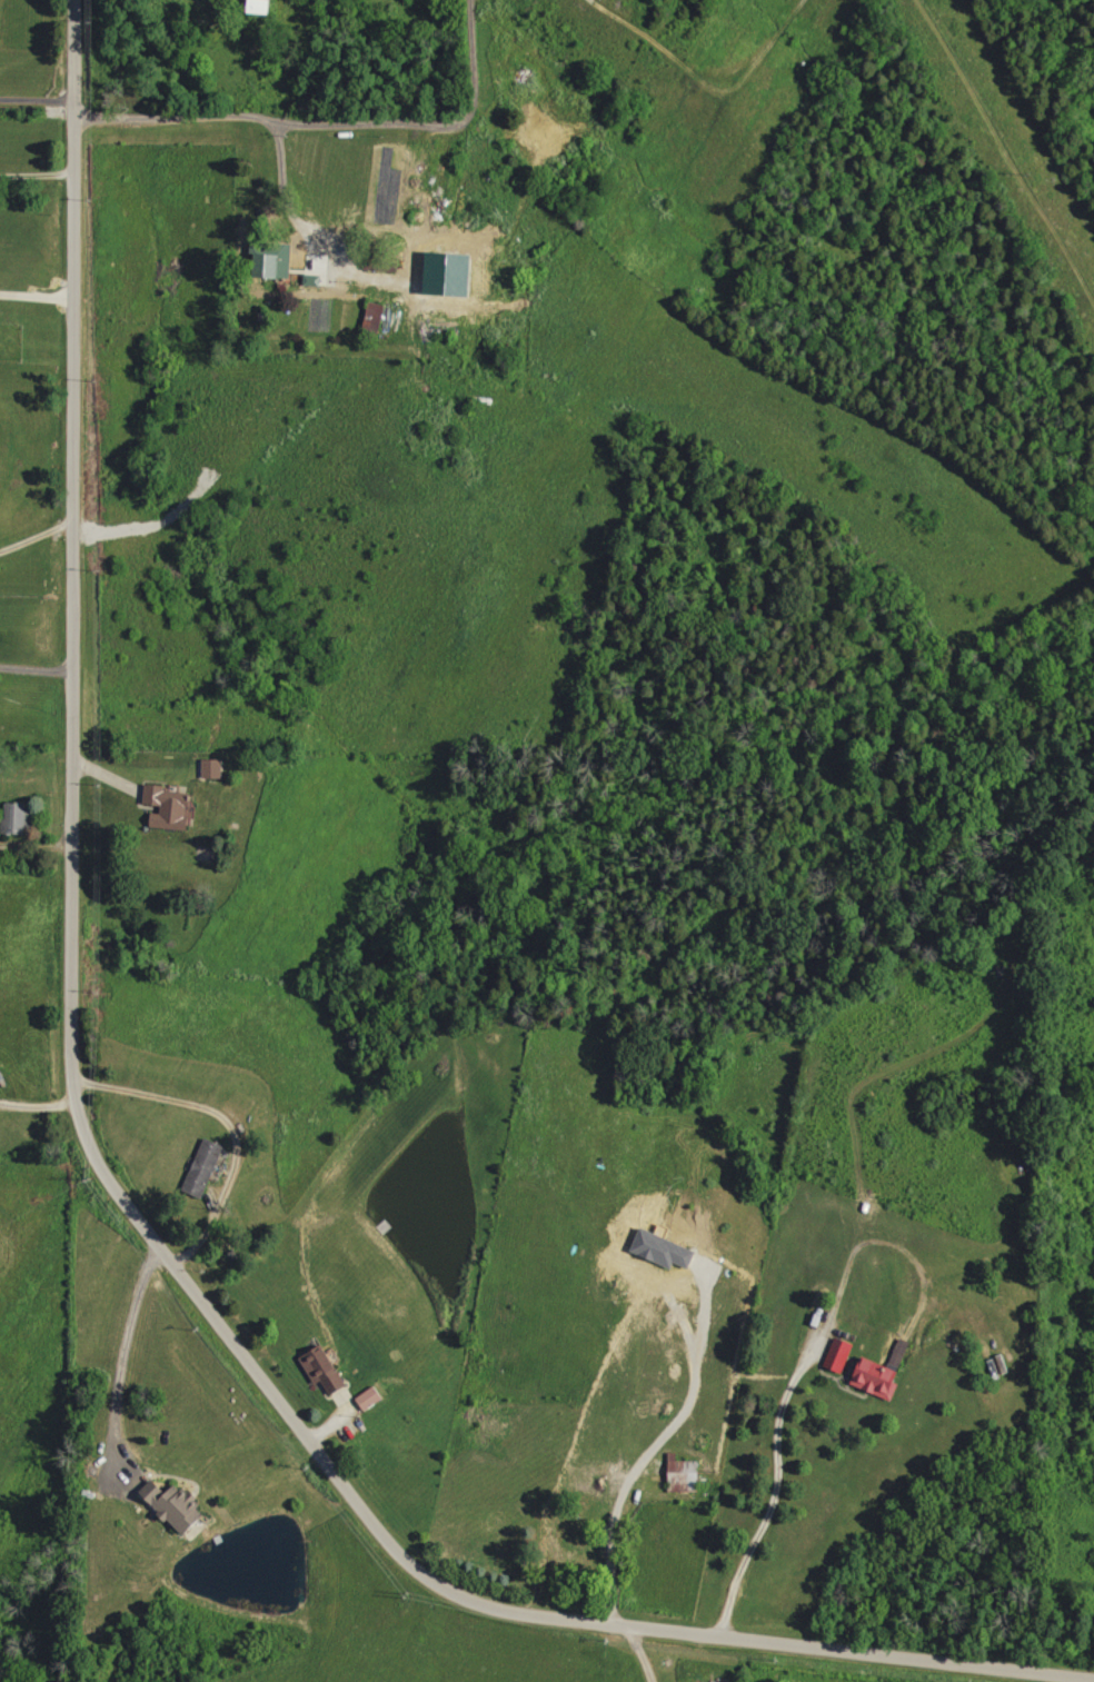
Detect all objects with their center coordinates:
building: (262, 6)
road: (36, 97)
road: (169, 113)
road: (424, 123)
road: (37, 175)
road: (305, 236)
building: (273, 259)
road: (36, 293)
building: (377, 316)
road: (36, 536)
road: (36, 667)
building: (213, 768)
building: (172, 807)
building: (17, 817)
building: (205, 1167)
road: (105, 1176)
building: (839, 1354)
road: (119, 1355)
building: (326, 1370)
building: (879, 1379)
building: (370, 1397)
building: (684, 1470)
road: (773, 1491)
building: (178, 1505)
road: (637, 1654)

